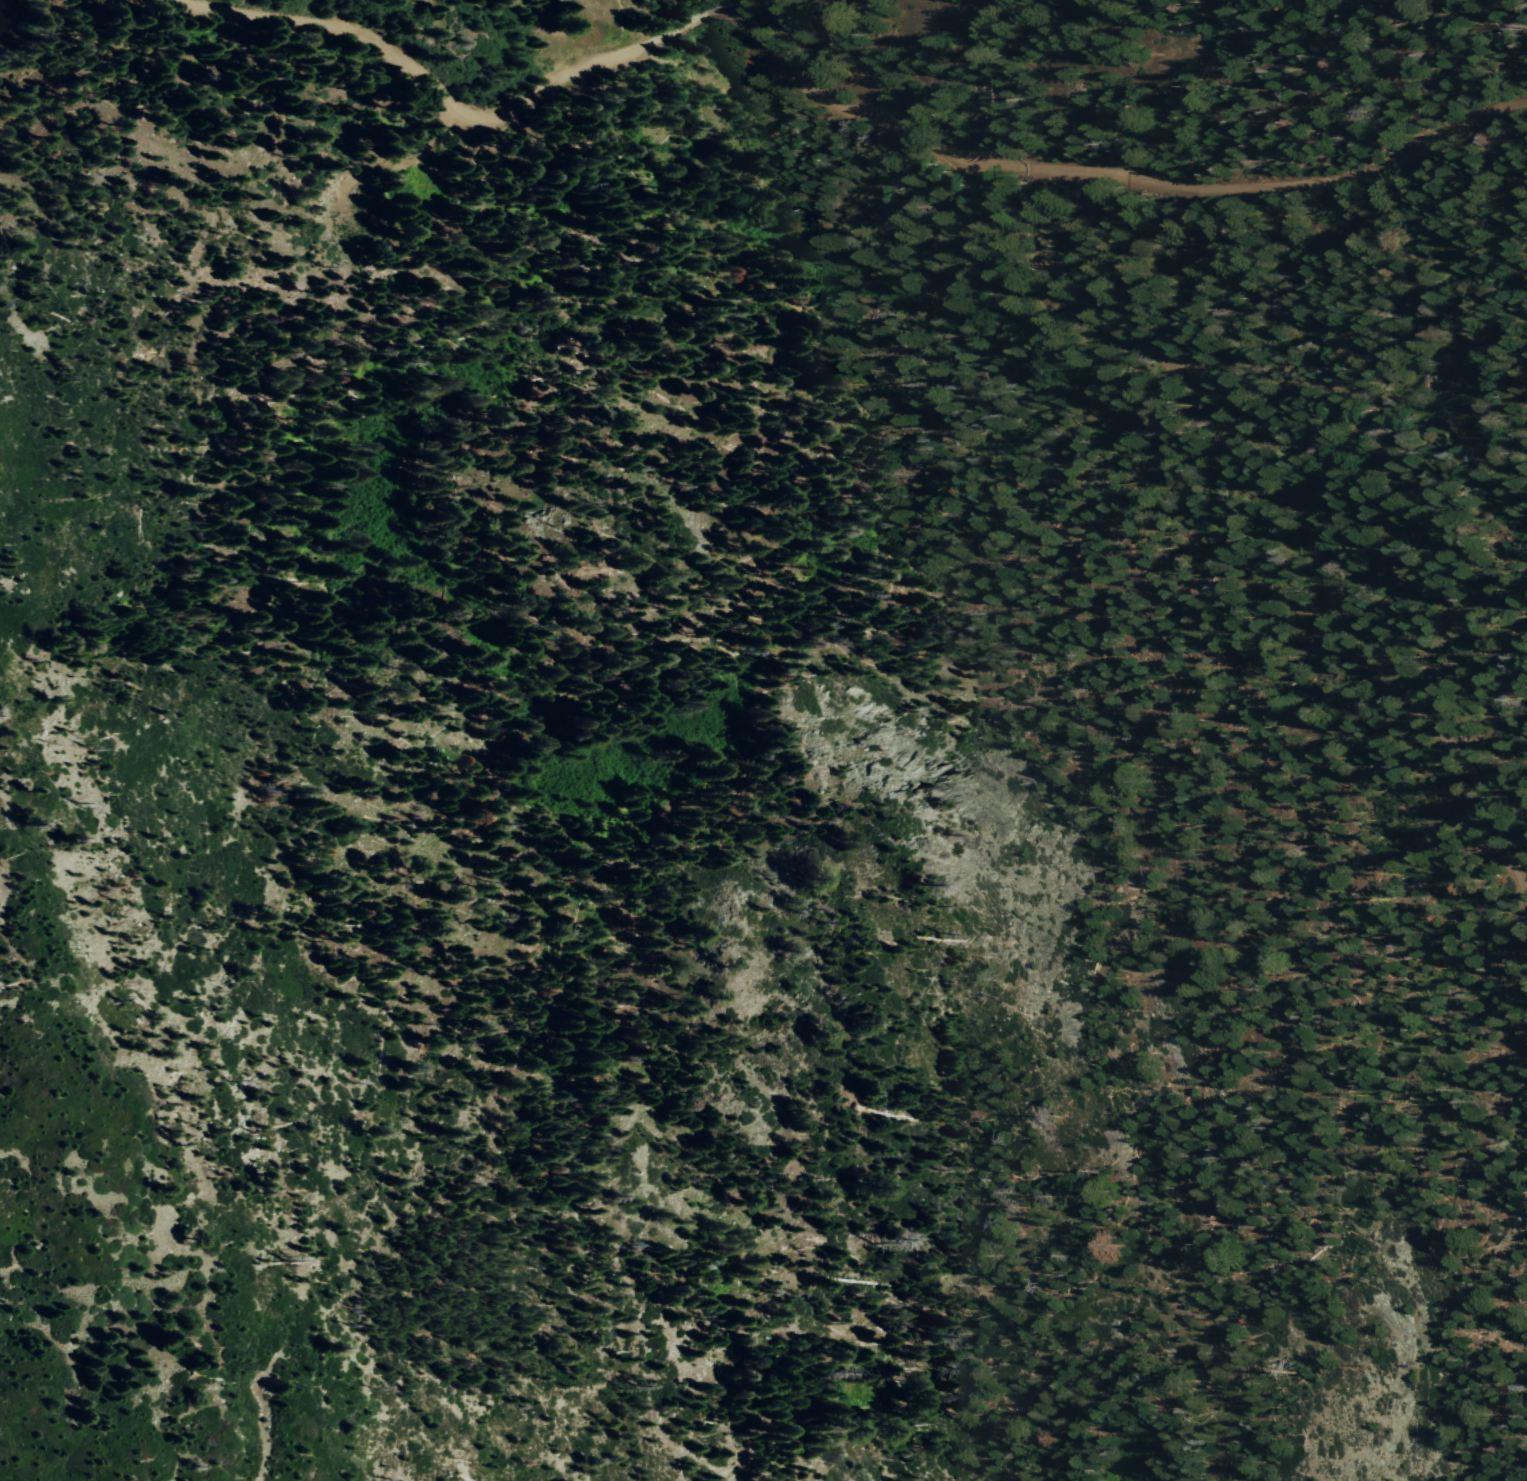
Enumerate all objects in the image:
road: (985, 176)
road: (1262, 188)

